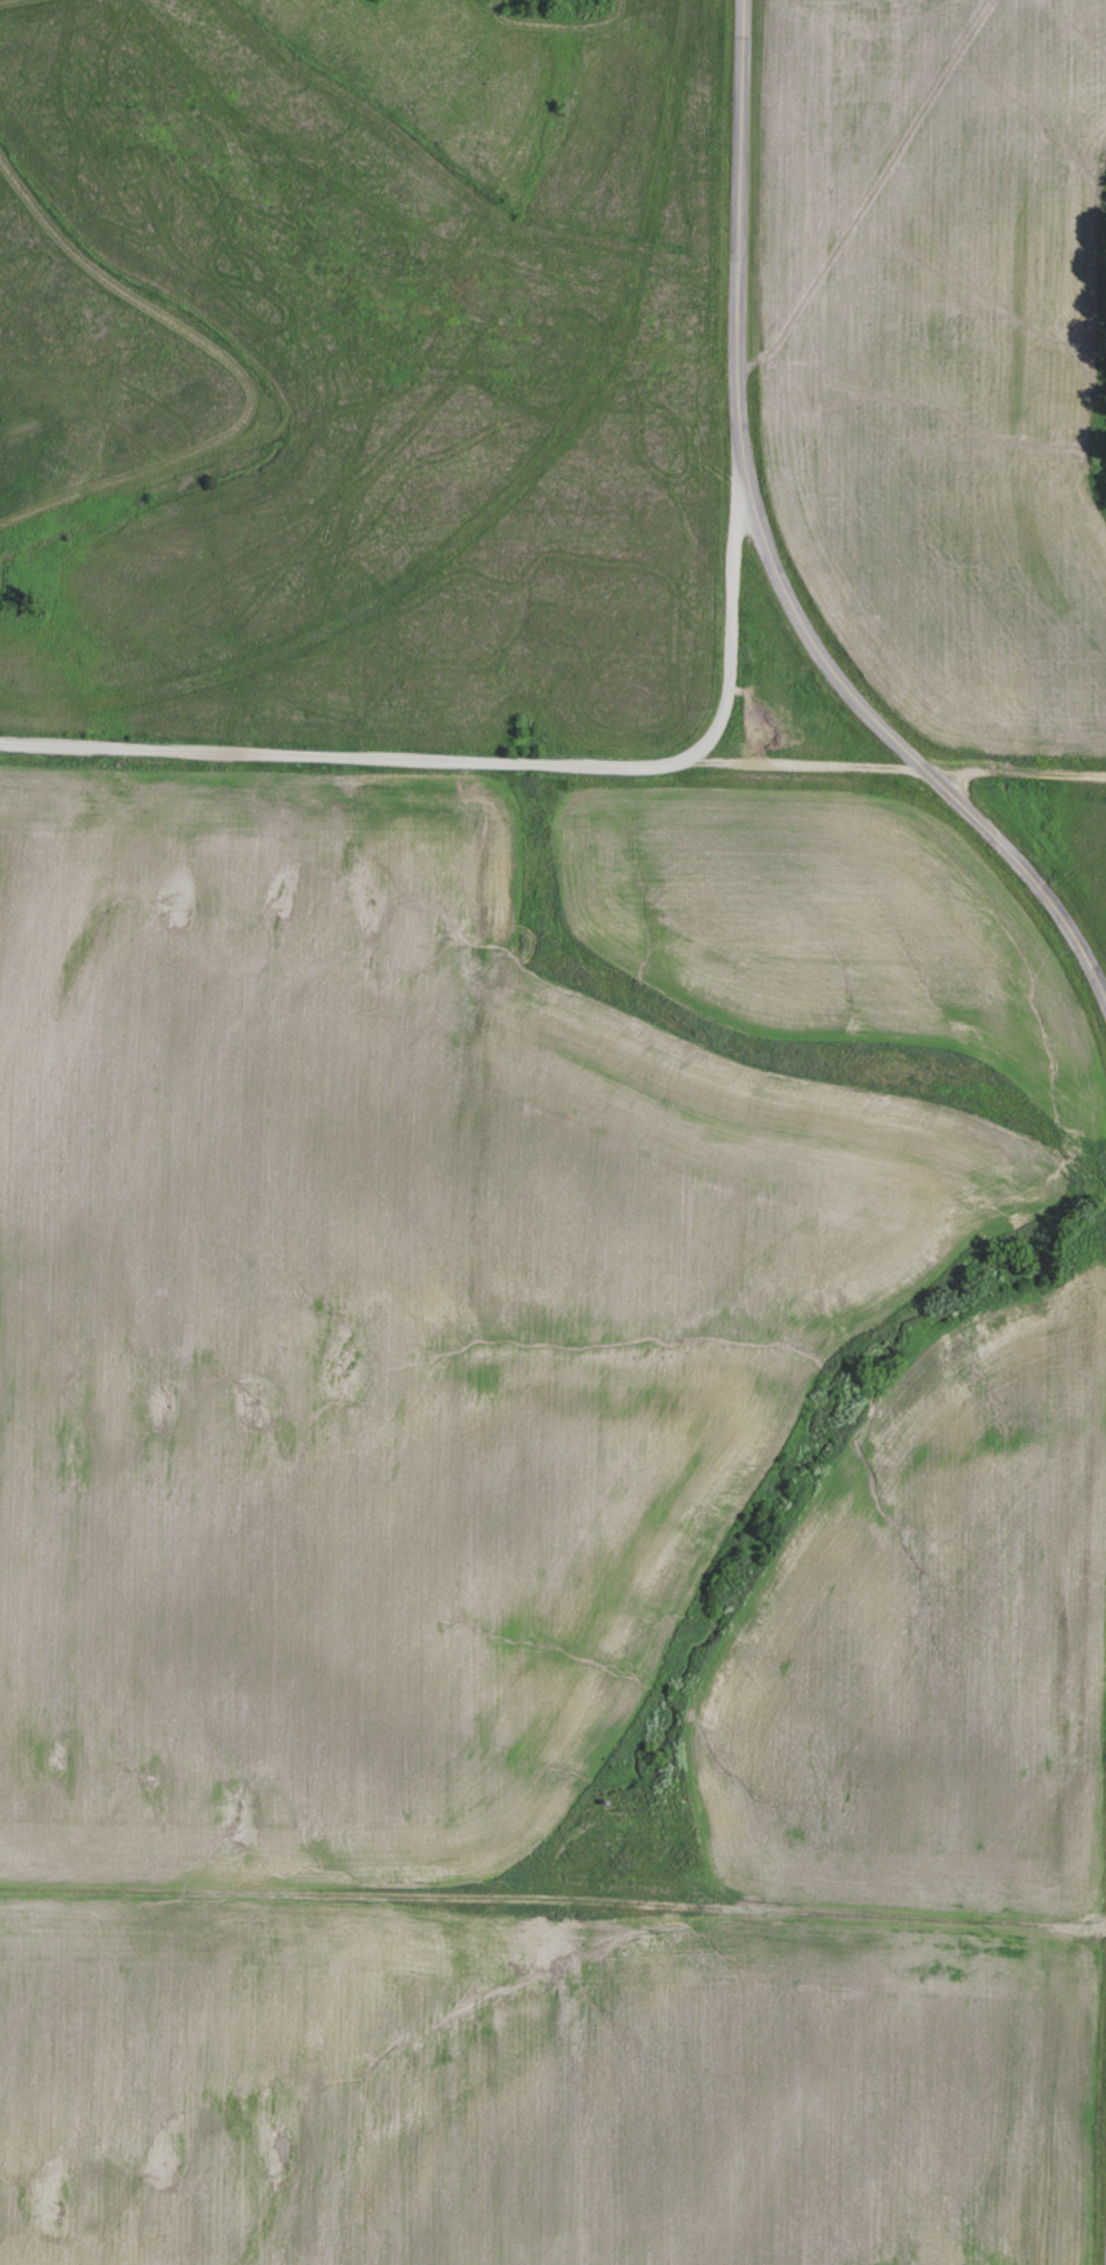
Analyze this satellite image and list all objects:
road: (767, 557)
road: (518, 763)
road: (810, 765)

